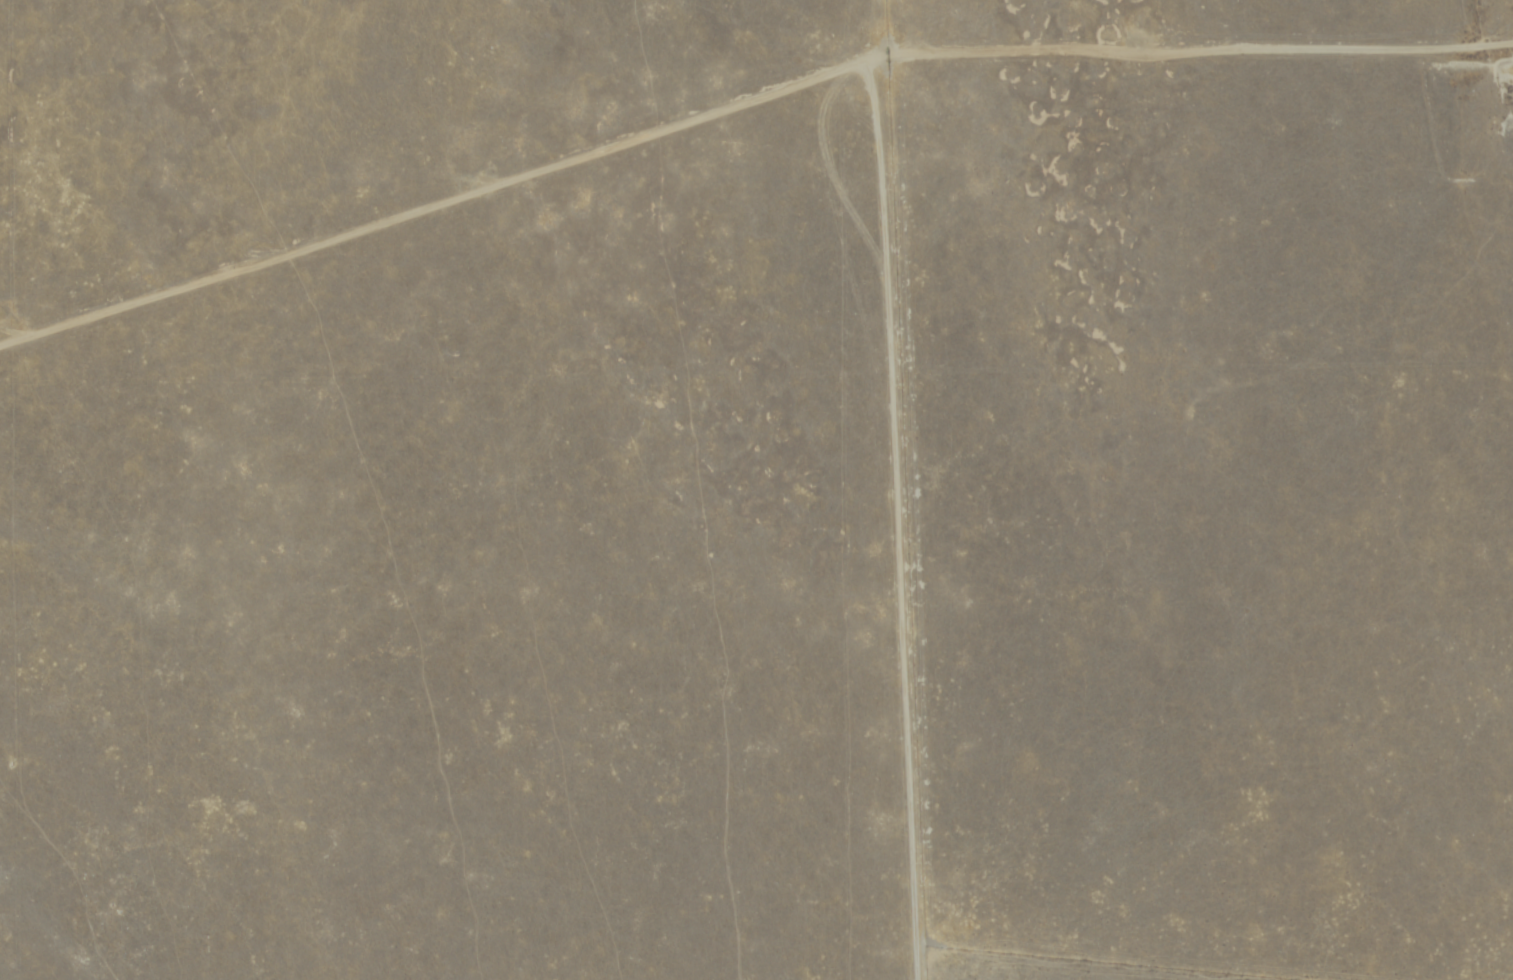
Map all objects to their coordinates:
road: (739, 109)
road: (899, 489)

